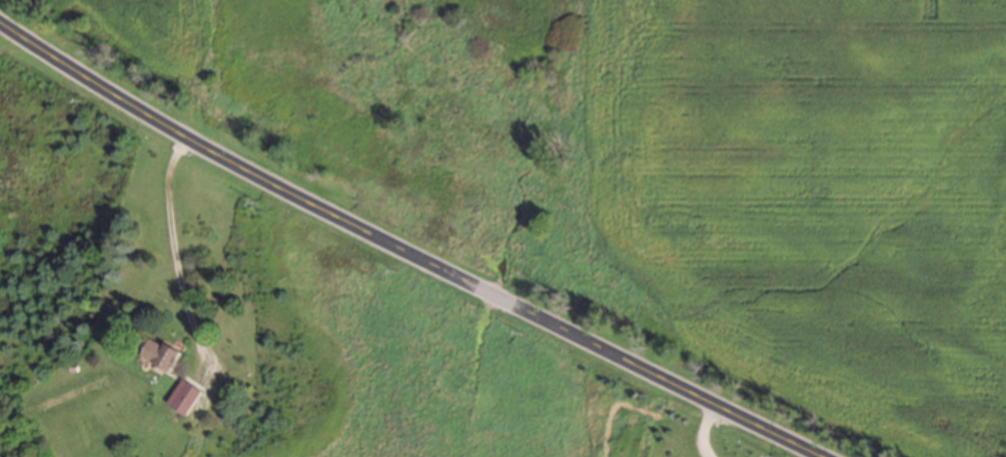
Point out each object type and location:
road: (410, 257)
road: (177, 262)
building: (160, 353)
building: (184, 396)
road: (706, 427)

